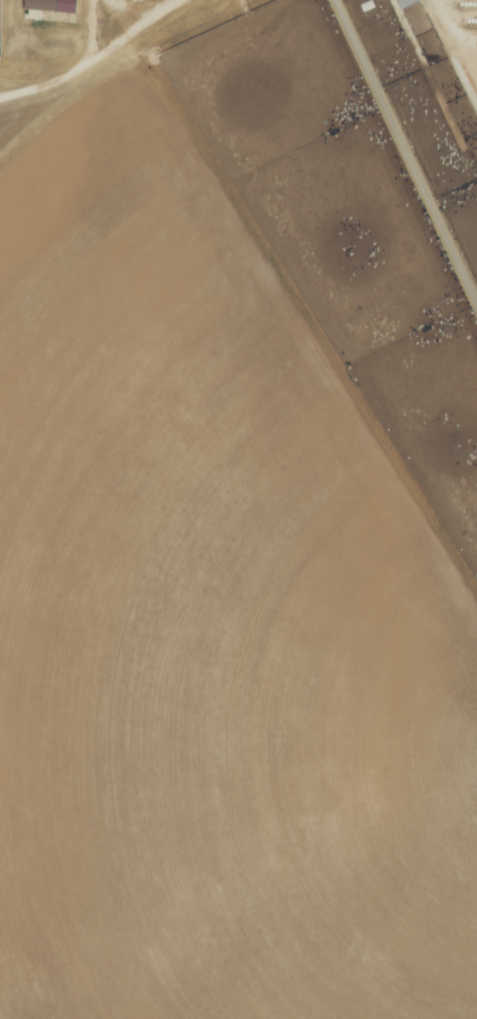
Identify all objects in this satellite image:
building: (408, 3)
building: (54, 6)

